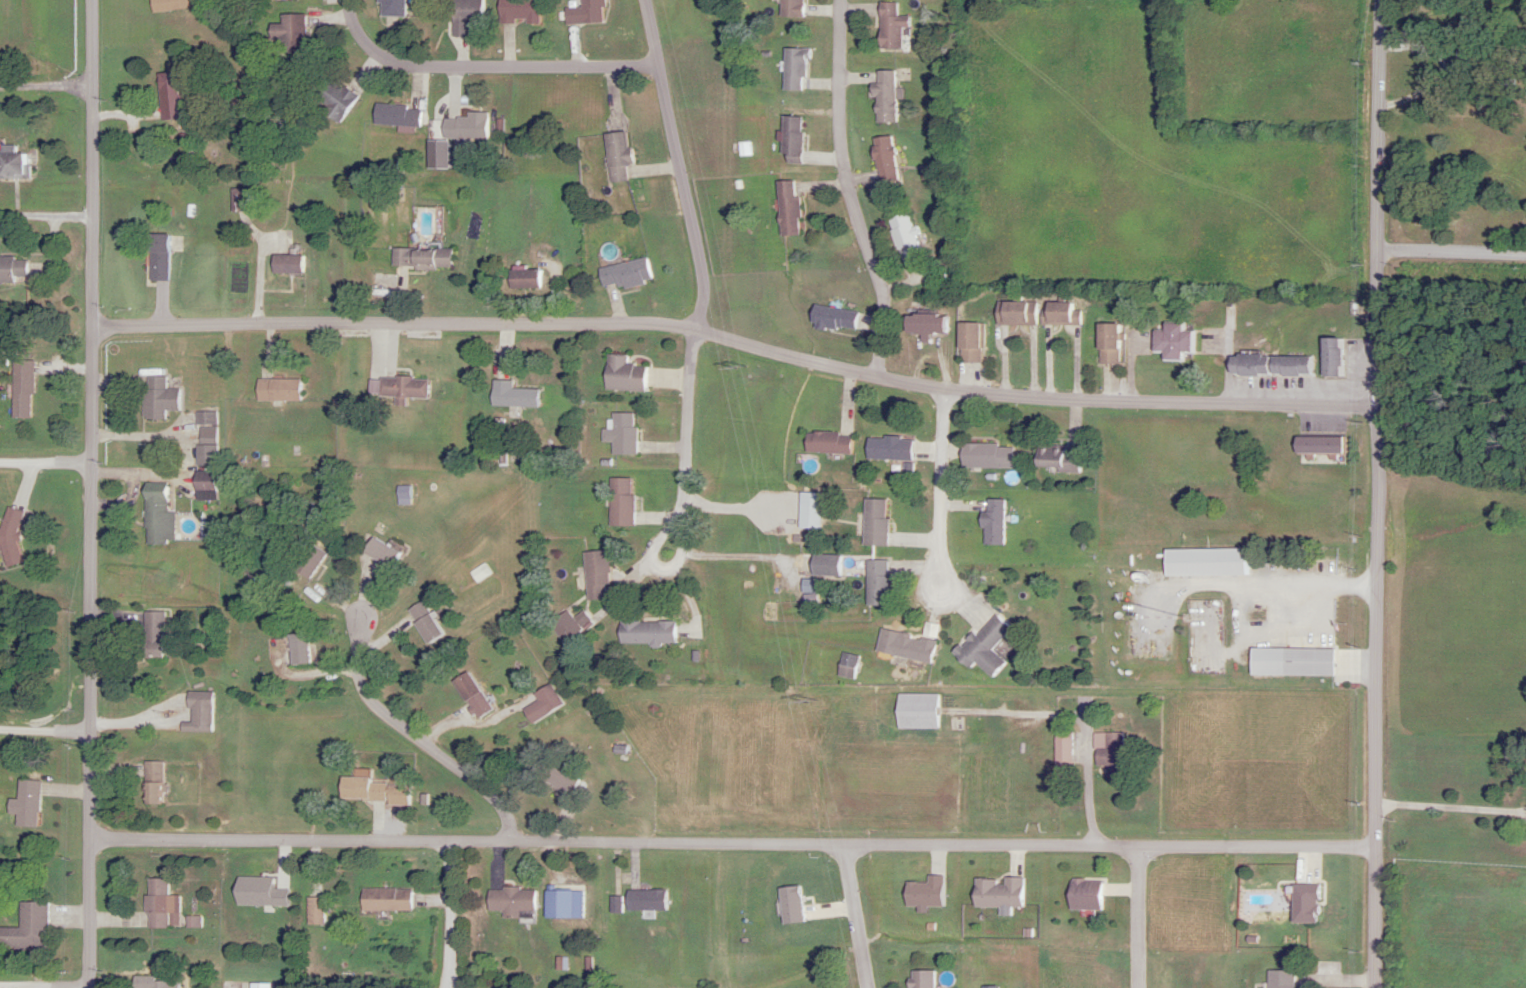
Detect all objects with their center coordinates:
building: (167, 5)
building: (388, 8)
building: (789, 8)
building: (515, 11)
building: (582, 12)
building: (463, 16)
building: (888, 26)
building: (286, 34)
road: (483, 67)
building: (792, 69)
road: (47, 87)
building: (167, 96)
building: (331, 97)
building: (883, 97)
building: (395, 116)
building: (463, 127)
building: (790, 140)
building: (615, 157)
building: (882, 159)
building: (16, 163)
road: (679, 166)
road: (848, 191)
building: (786, 209)
road: (47, 217)
building: (903, 238)
road: (1452, 255)
building: (155, 258)
building: (420, 258)
building: (284, 264)
building: (15, 270)
building: (623, 274)
building: (522, 279)
building: (1013, 314)
building: (1058, 314)
building: (833, 319)
building: (922, 324)
building: (1170, 341)
road: (739, 343)
building: (968, 343)
building: (1105, 344)
building: (1332, 358)
building: (1268, 366)
building: (621, 375)
building: (23, 389)
building: (400, 389)
building: (275, 390)
building: (510, 396)
building: (156, 398)
road: (688, 419)
building: (619, 434)
building: (204, 439)
building: (826, 443)
building: (1316, 446)
building: (887, 449)
road: (190, 453)
building: (985, 456)
building: (1054, 459)
road: (46, 466)
road: (942, 489)
road: (1379, 493)
road: (92, 494)
building: (618, 502)
road: (741, 511)
building: (807, 511)
building: (155, 516)
building: (992, 522)
building: (873, 523)
road: (682, 534)
building: (13, 536)
building: (378, 553)
road: (745, 555)
road: (650, 558)
building: (306, 562)
building: (1204, 563)
building: (856, 574)
building: (594, 575)
building: (421, 622)
building: (566, 625)
building: (645, 633)
building: (152, 636)
building: (904, 647)
building: (982, 647)
building: (296, 650)
building: (1289, 663)
building: (468, 693)
road: (584, 693)
building: (545, 698)
building: (915, 711)
building: (197, 713)
road: (148, 725)
road: (45, 731)
road: (418, 739)
building: (1061, 749)
building: (1109, 753)
building: (556, 778)
building: (151, 783)
building: (359, 790)
building: (29, 804)
road: (1451, 809)
road: (598, 843)
road: (1241, 847)
building: (997, 895)
building: (1081, 895)
building: (383, 900)
building: (639, 901)
building: (509, 903)
building: (157, 904)
building: (556, 904)
building: (1303, 904)
building: (789, 905)
building: (312, 911)
road: (454, 914)
road: (853, 917)
road: (1137, 918)
building: (30, 929)
building: (1279, 978)
building: (920, 980)
building: (150, 983)
building: (256, 986)
road: (70, 987)

